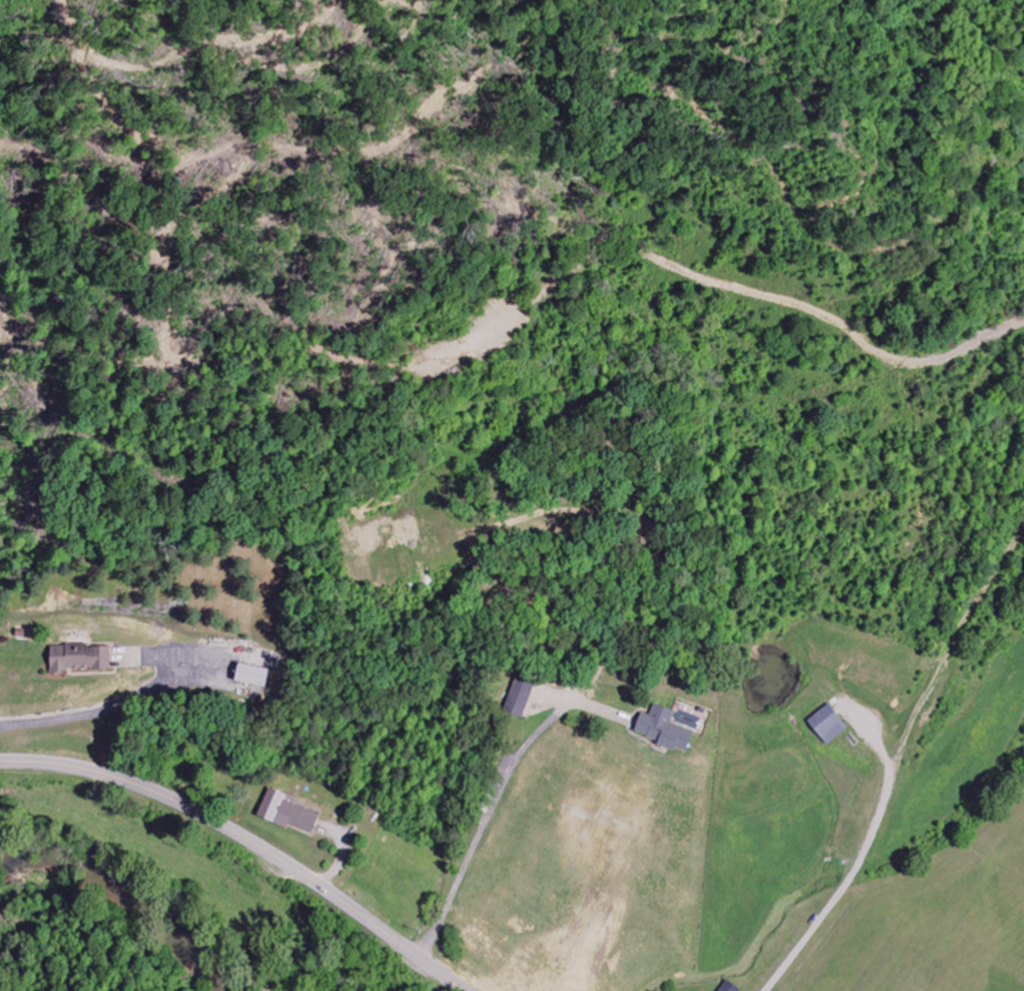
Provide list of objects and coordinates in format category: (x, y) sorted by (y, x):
building: (78, 659)
building: (251, 676)
building: (523, 687)
building: (828, 725)
building: (664, 730)
building: (287, 814)
road: (249, 840)

